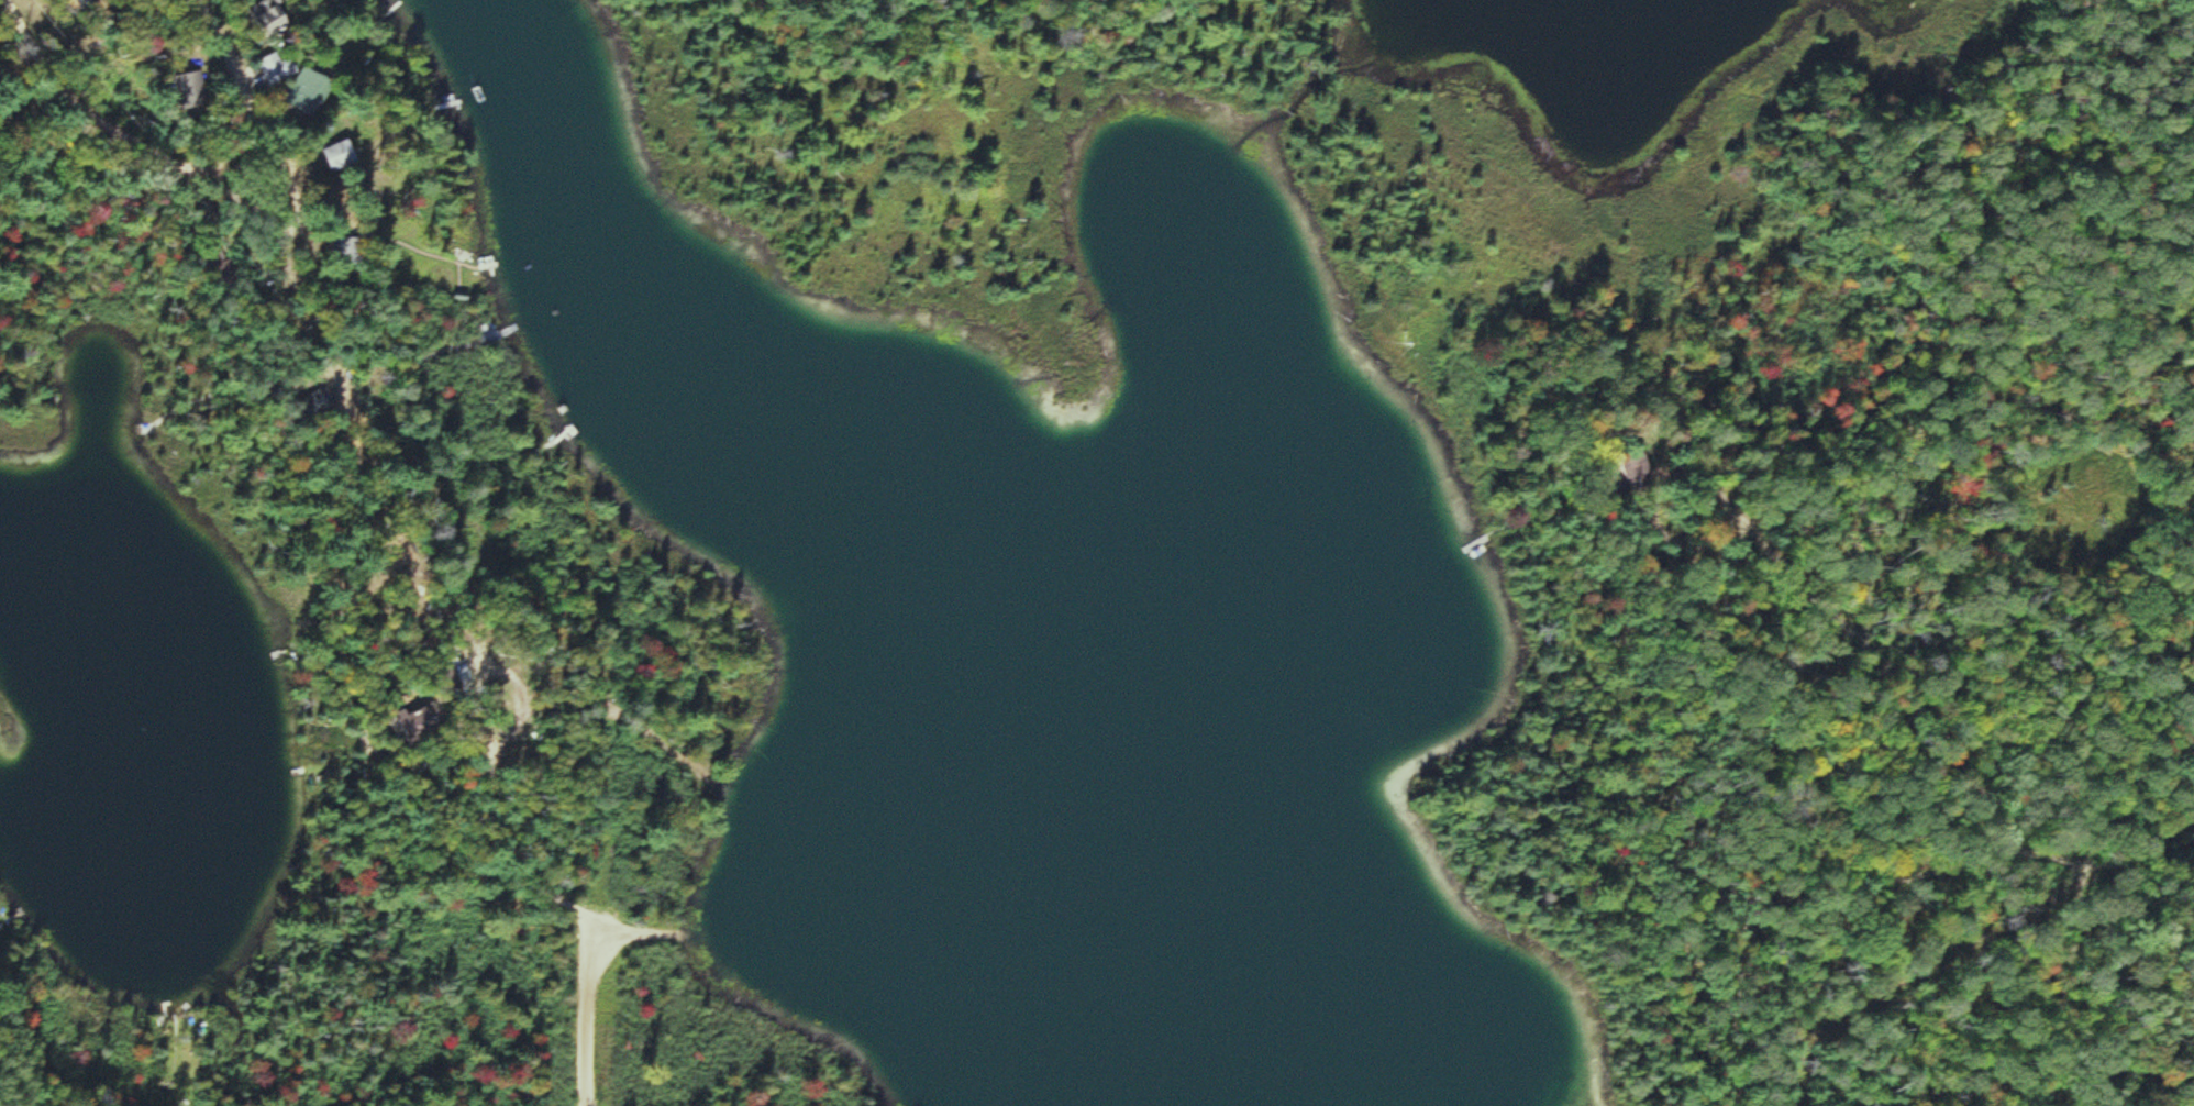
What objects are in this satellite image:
building: (93, 3)
building: (274, 15)
building: (280, 67)
road: (243, 74)
building: (193, 90)
building: (313, 90)
road: (101, 118)
building: (346, 153)
road: (292, 213)
building: (215, 255)
building: (317, 403)
building: (1639, 469)
building: (408, 554)
road: (437, 666)
road: (1930, 908)
road: (631, 932)
road: (587, 1013)

